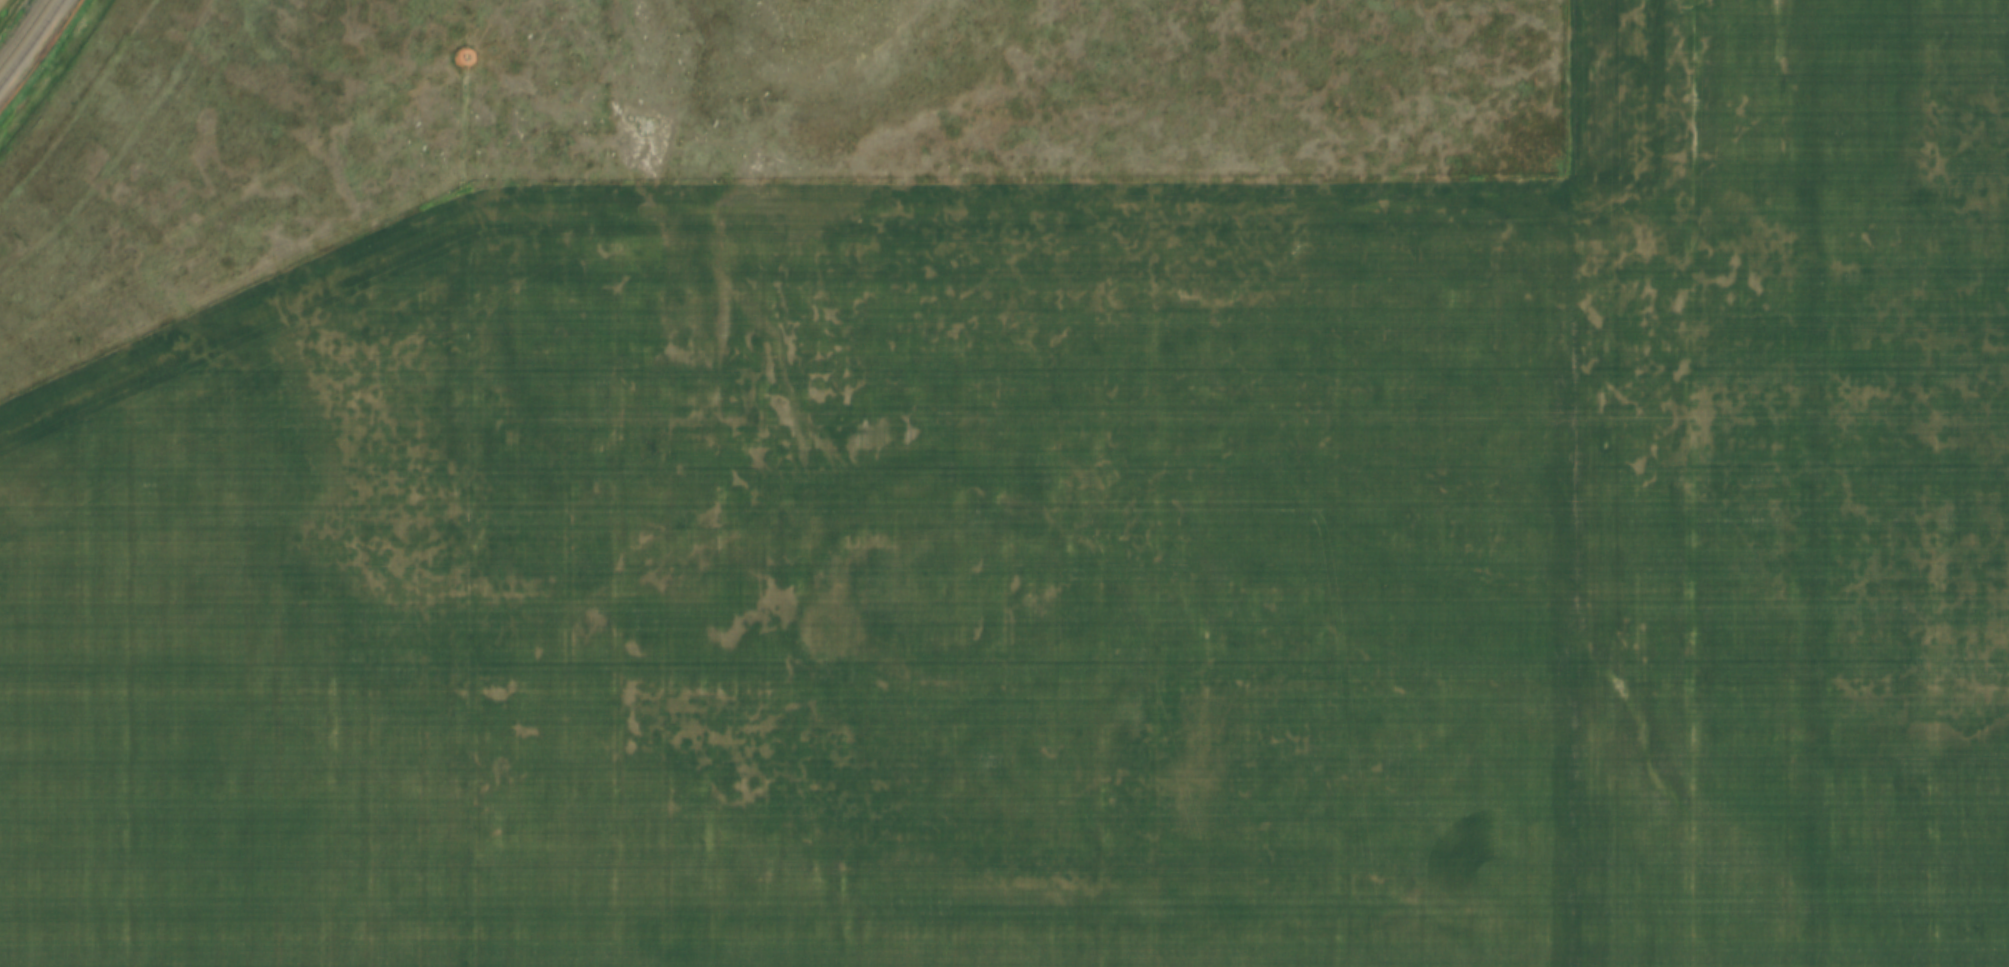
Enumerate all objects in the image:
railway: (29, 41)
road: (38, 53)

